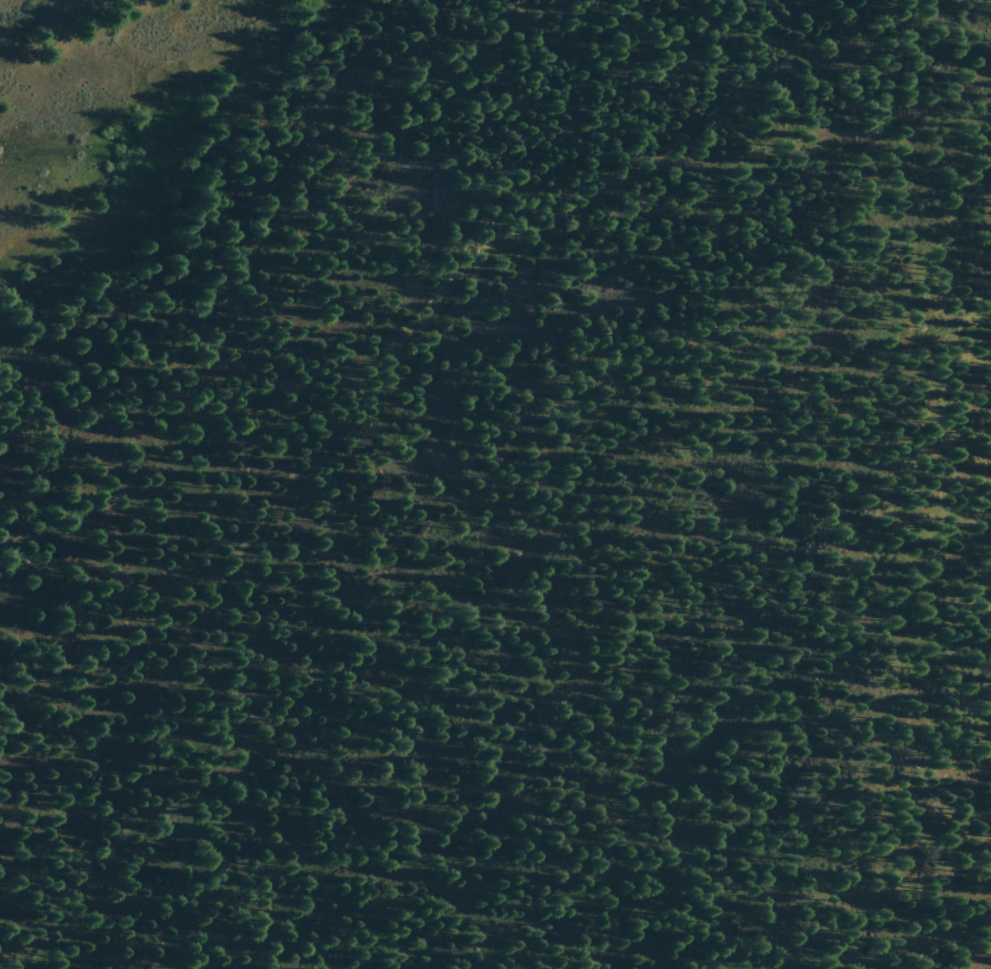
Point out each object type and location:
road: (198, 183)
road: (951, 208)
road: (212, 301)
road: (414, 316)
road: (23, 864)

